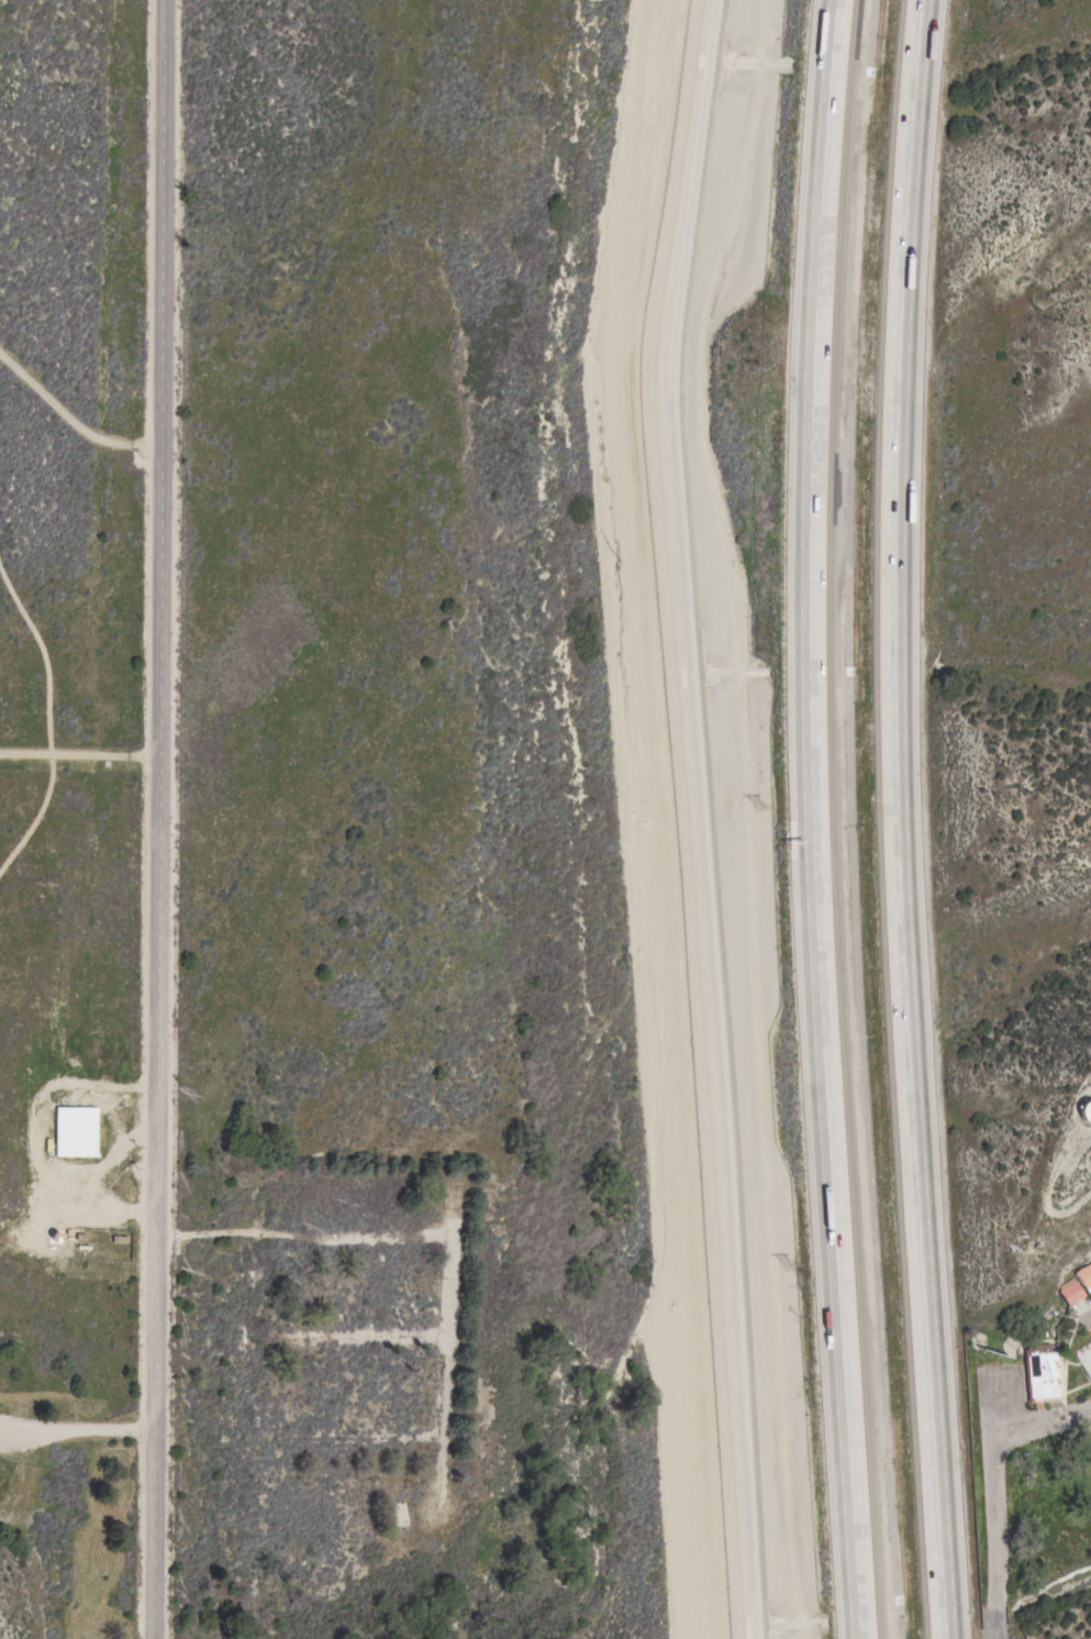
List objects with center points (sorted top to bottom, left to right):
power tower: (750, 274)
road: (162, 618)
road: (80, 754)
power tower: (762, 810)
road: (810, 819)
road: (900, 819)
building: (1086, 1111)
water tower: (1084, 1112)
road: (304, 1233)
power tower: (791, 1271)
building: (1086, 1276)
building: (1071, 1291)
building: (1042, 1372)
road: (78, 1424)
road: (155, 1437)
road: (993, 1482)

